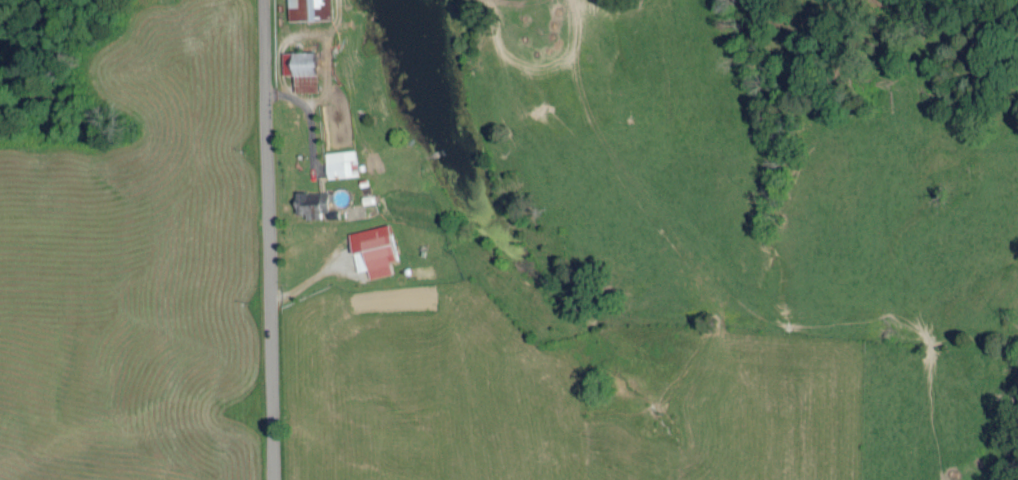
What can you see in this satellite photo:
building: (308, 8)
building: (299, 67)
building: (340, 161)
building: (309, 201)
road: (265, 240)
building: (371, 247)

